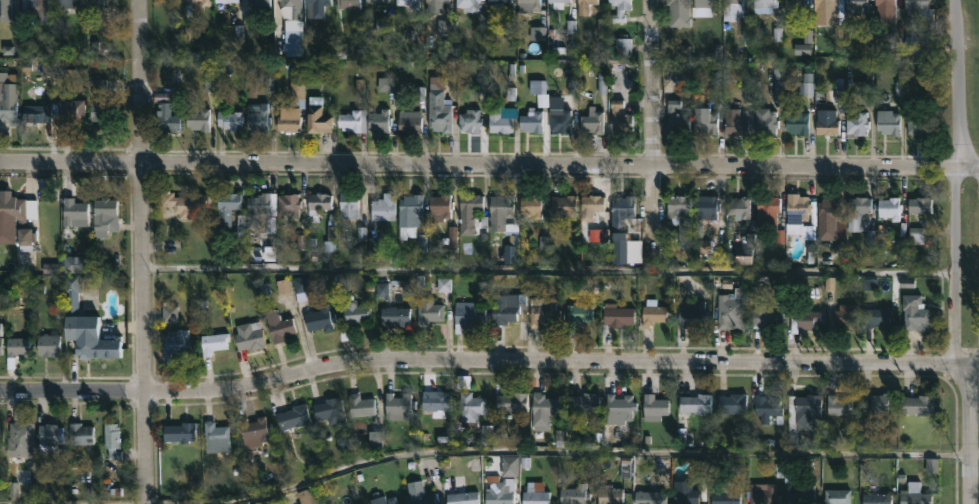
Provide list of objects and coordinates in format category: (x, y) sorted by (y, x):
building: (225, 0)
building: (376, 0)
building: (436, 1)
building: (497, 1)
building: (97, 2)
building: (198, 2)
building: (261, 2)
building: (2, 3)
building: (67, 3)
building: (409, 3)
building: (556, 3)
building: (765, 3)
building: (347, 4)
building: (468, 4)
building: (795, 4)
building: (857, 4)
building: (38, 5)
building: (528, 5)
building: (736, 6)
building: (317, 7)
building: (582, 7)
building: (704, 7)
building: (619, 9)
building: (885, 10)
building: (909, 10)
building: (678, 12)
building: (830, 13)
building: (291, 27)
road: (958, 80)
building: (538, 91)
building: (438, 106)
building: (7, 110)
building: (101, 110)
building: (37, 111)
building: (69, 113)
building: (733, 113)
building: (317, 116)
building: (676, 116)
building: (619, 117)
building: (166, 118)
building: (197, 119)
building: (229, 119)
building: (257, 119)
building: (287, 119)
building: (501, 119)
building: (559, 119)
building: (352, 120)
building: (378, 120)
building: (531, 120)
building: (705, 120)
building: (470, 121)
building: (766, 121)
building: (888, 121)
building: (592, 122)
building: (797, 122)
building: (917, 122)
building: (409, 123)
road: (652, 123)
building: (856, 123)
building: (826, 126)
road: (970, 160)
road: (480, 166)
road: (970, 170)
building: (184, 204)
building: (287, 204)
building: (317, 204)
building: (532, 204)
building: (919, 204)
building: (347, 205)
building: (440, 205)
building: (564, 206)
building: (590, 206)
building: (623, 206)
building: (739, 206)
building: (382, 207)
building: (706, 207)
building: (258, 208)
building: (679, 209)
building: (889, 209)
building: (224, 210)
building: (857, 211)
building: (72, 212)
building: (468, 212)
building: (768, 212)
building: (502, 213)
building: (796, 213)
building: (102, 214)
building: (409, 214)
building: (16, 219)
building: (831, 219)
road: (147, 251)
road: (956, 261)
road: (478, 272)
building: (301, 286)
building: (506, 307)
building: (731, 310)
building: (428, 311)
building: (542, 311)
building: (764, 311)
building: (652, 312)
building: (914, 313)
building: (618, 314)
building: (467, 315)
building: (692, 315)
building: (845, 315)
building: (394, 316)
building: (576, 316)
building: (352, 317)
building: (876, 317)
building: (320, 318)
building: (803, 320)
building: (277, 326)
building: (249, 335)
building: (174, 342)
building: (212, 342)
building: (47, 345)
building: (2, 346)
building: (17, 346)
building: (98, 347)
road: (973, 356)
road: (482, 360)
road: (973, 360)
building: (436, 402)
building: (510, 402)
building: (583, 402)
building: (881, 402)
building: (695, 403)
building: (730, 404)
building: (915, 404)
building: (360, 405)
building: (838, 405)
building: (397, 406)
building: (471, 406)
building: (653, 407)
building: (619, 409)
building: (328, 410)
building: (543, 410)
building: (768, 410)
building: (801, 412)
building: (291, 417)
building: (254, 431)
building: (179, 432)
road: (967, 432)
building: (48, 433)
building: (80, 433)
building: (0, 437)
building: (215, 437)
building: (19, 439)
building: (111, 440)
road: (588, 457)
building: (459, 492)
building: (499, 492)
building: (801, 492)
building: (535, 493)
building: (684, 493)
building: (762, 493)
building: (420, 494)
building: (609, 494)
building: (914, 494)
building: (574, 495)
building: (723, 495)
building: (649, 497)
building: (837, 497)
building: (875, 498)
building: (383, 500)

